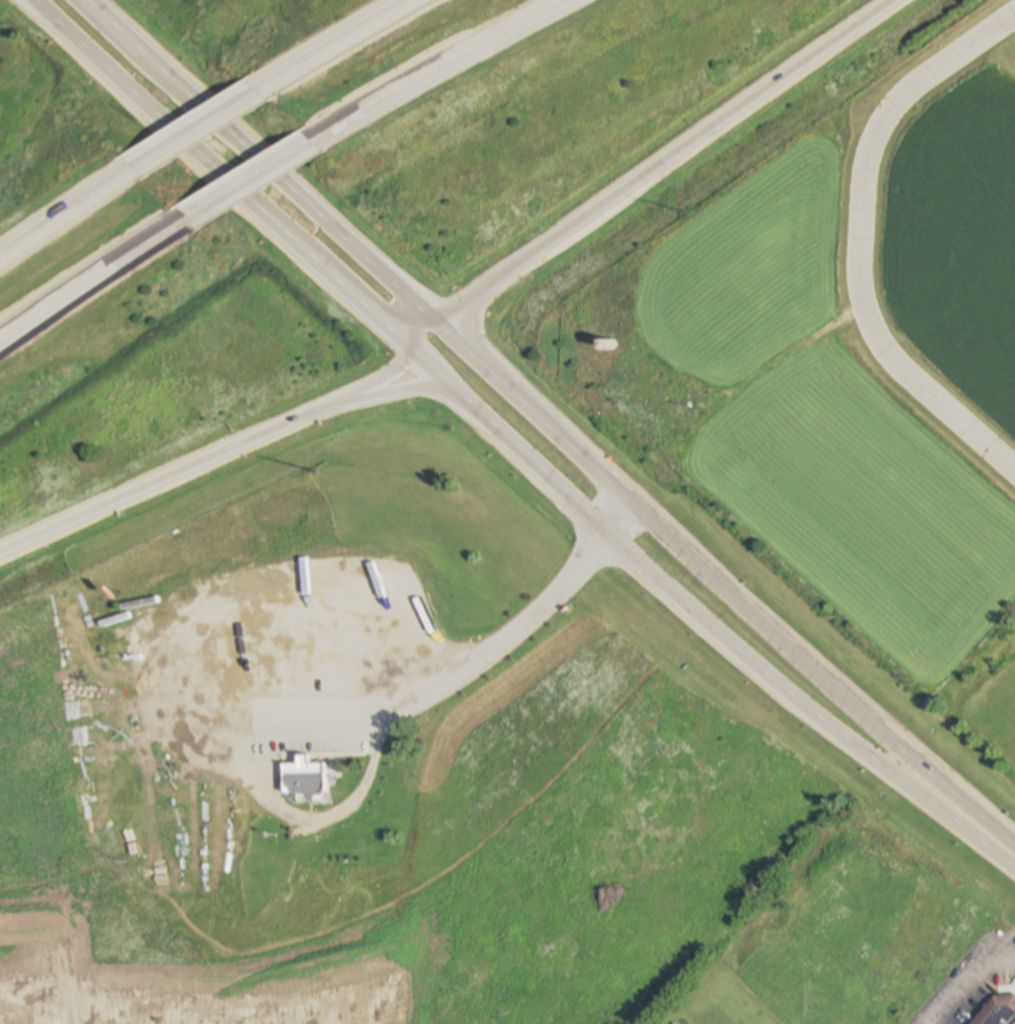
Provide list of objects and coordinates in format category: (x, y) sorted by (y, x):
road: (365, 34)
road: (449, 72)
road: (218, 121)
road: (272, 165)
road: (656, 173)
road: (216, 179)
road: (249, 184)
road: (67, 216)
road: (862, 240)
road: (94, 279)
road: (397, 375)
road: (410, 387)
road: (189, 476)
road: (730, 588)
road: (702, 623)
road: (499, 646)
building: (302, 778)
road: (972, 984)
building: (997, 1010)

